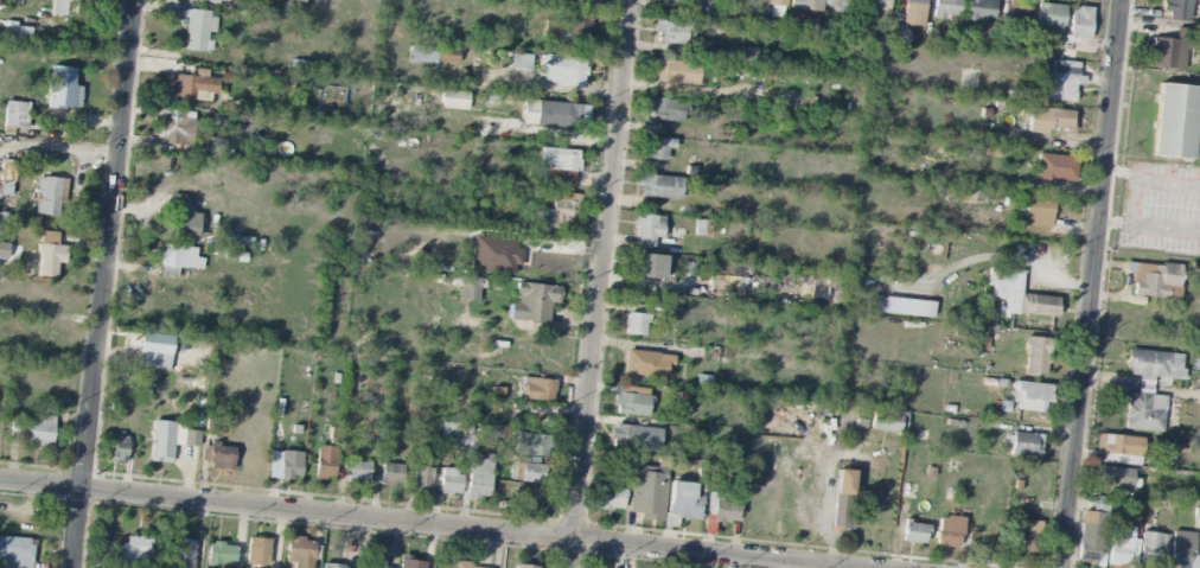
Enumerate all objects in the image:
building: (299, 0)
building: (586, 0)
building: (215, 1)
building: (841, 4)
building: (805, 5)
building: (876, 7)
building: (58, 8)
building: (945, 8)
building: (1177, 8)
building: (981, 9)
building: (1016, 11)
building: (690, 12)
building: (913, 13)
building: (1051, 15)
building: (1080, 23)
building: (568, 26)
building: (199, 31)
building: (671, 32)
building: (18, 33)
building: (899, 34)
building: (1170, 50)
building: (433, 55)
building: (746, 56)
building: (521, 60)
building: (562, 69)
building: (676, 72)
building: (1060, 82)
building: (192, 84)
building: (63, 89)
building: (454, 100)
building: (665, 109)
building: (554, 114)
building: (17, 115)
building: (1048, 120)
building: (1175, 121)
building: (177, 127)
building: (659, 148)
building: (31, 155)
building: (558, 165)
building: (1057, 167)
building: (7, 170)
road: (1150, 179)
building: (660, 186)
building: (50, 194)
building: (966, 196)
building: (1038, 212)
building: (556, 217)
building: (181, 221)
road: (1149, 226)
building: (647, 229)
building: (4, 250)
building: (50, 254)
building: (494, 255)
building: (178, 260)
building: (646, 266)
building: (1154, 279)
road: (103, 283)
road: (599, 283)
road: (1091, 283)
building: (468, 288)
building: (1019, 294)
building: (534, 302)
building: (904, 307)
building: (636, 324)
building: (154, 351)
building: (1036, 357)
building: (646, 364)
building: (1196, 364)
building: (1149, 388)
building: (538, 389)
building: (1030, 396)
building: (633, 401)
building: (886, 421)
building: (34, 430)
building: (453, 436)
building: (636, 438)
building: (170, 440)
building: (531, 445)
building: (1025, 445)
building: (117, 448)
building: (1119, 448)
building: (221, 457)
building: (325, 462)
building: (286, 465)
building: (358, 471)
building: (391, 473)
building: (531, 473)
power tower: (95, 476)
building: (1117, 477)
building: (422, 478)
building: (479, 479)
building: (451, 481)
building: (843, 481)
building: (647, 492)
building: (609, 494)
building: (526, 498)
building: (684, 500)
building: (1099, 504)
building: (726, 508)
building: (842, 513)
road: (422, 524)
building: (949, 531)
building: (914, 532)
building: (1026, 536)
building: (1090, 537)
building: (1119, 545)
building: (1151, 549)
building: (1182, 550)
building: (257, 551)
building: (300, 551)
building: (15, 553)
building: (132, 553)
building: (179, 553)
building: (221, 555)
building: (411, 563)
building: (457, 564)
building: (334, 566)
building: (374, 566)
building: (524, 566)

